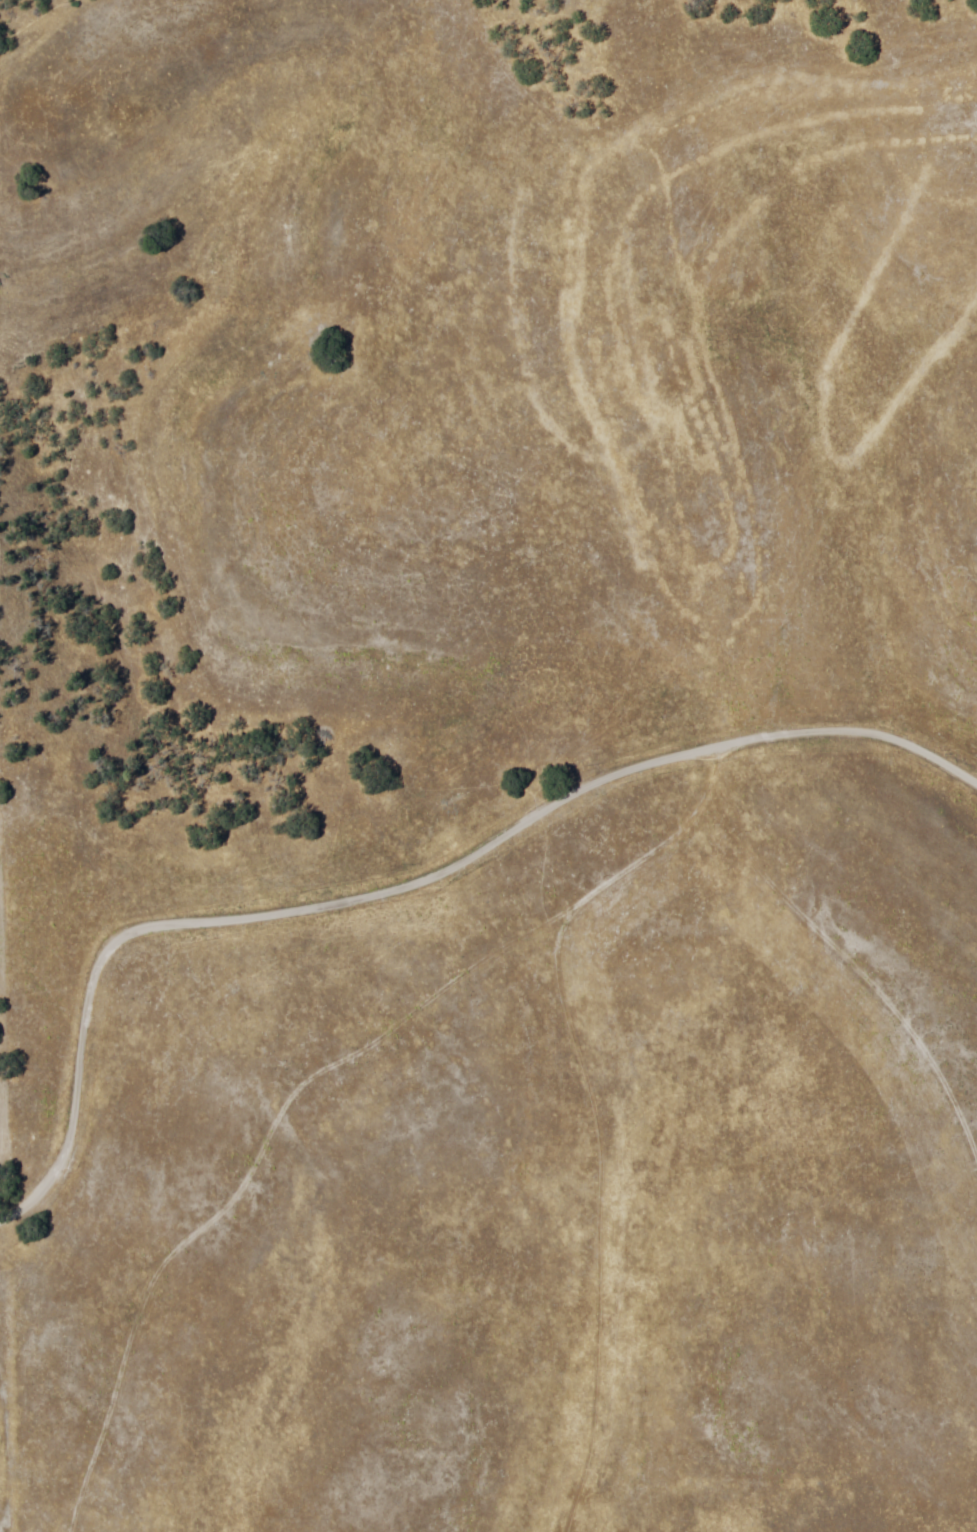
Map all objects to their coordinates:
road: (406, 883)
road: (531, 1131)

